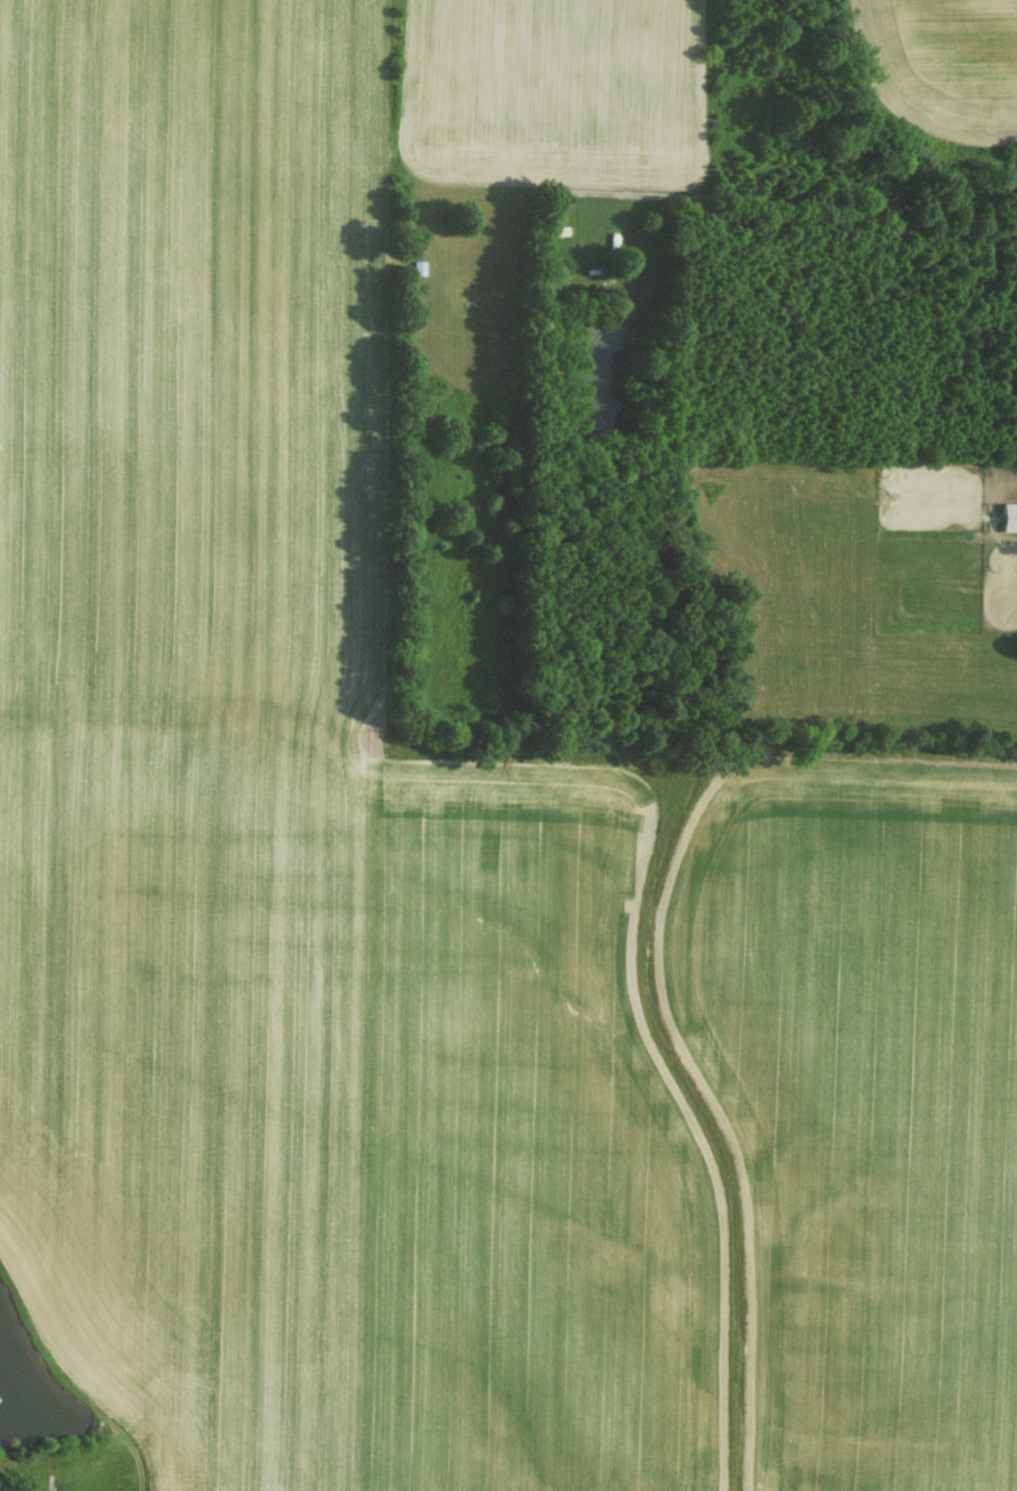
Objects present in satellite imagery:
road: (845, 191)
building: (1010, 516)
crop: (295, 844)

